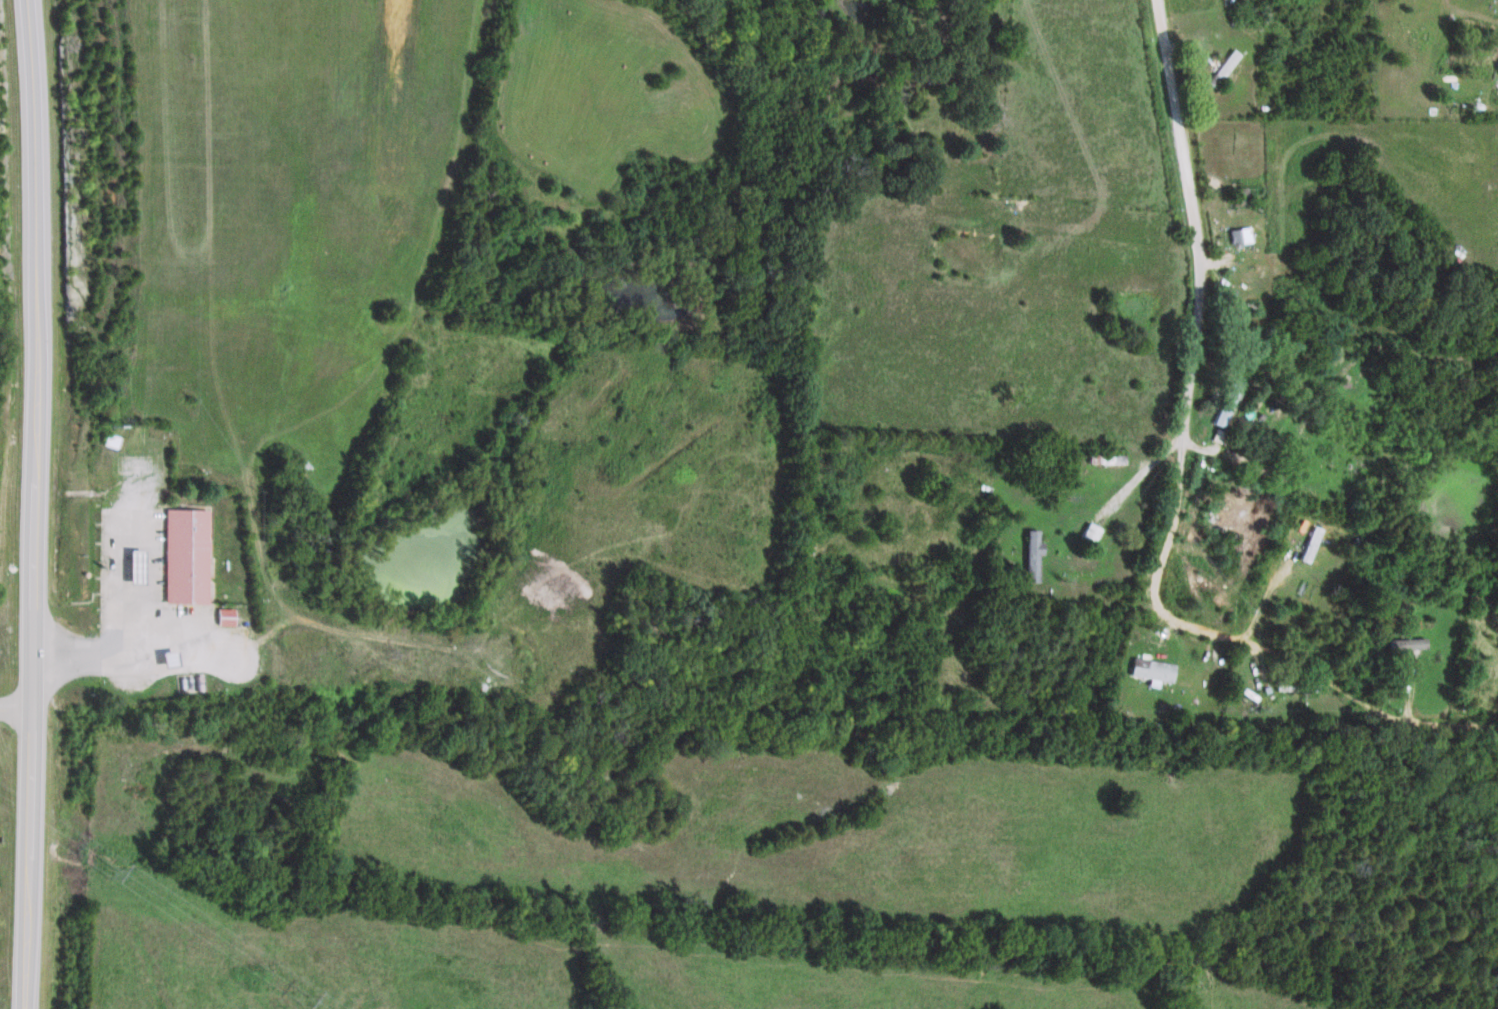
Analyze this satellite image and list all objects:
building: (1218, 67)
building: (1235, 234)
road: (1192, 291)
building: (1220, 401)
road: (36, 504)
building: (1084, 531)
building: (1027, 553)
building: (183, 554)
building: (219, 615)
road: (1241, 641)
building: (1406, 642)
building: (1149, 669)
building: (1295, 685)
road: (16, 704)

